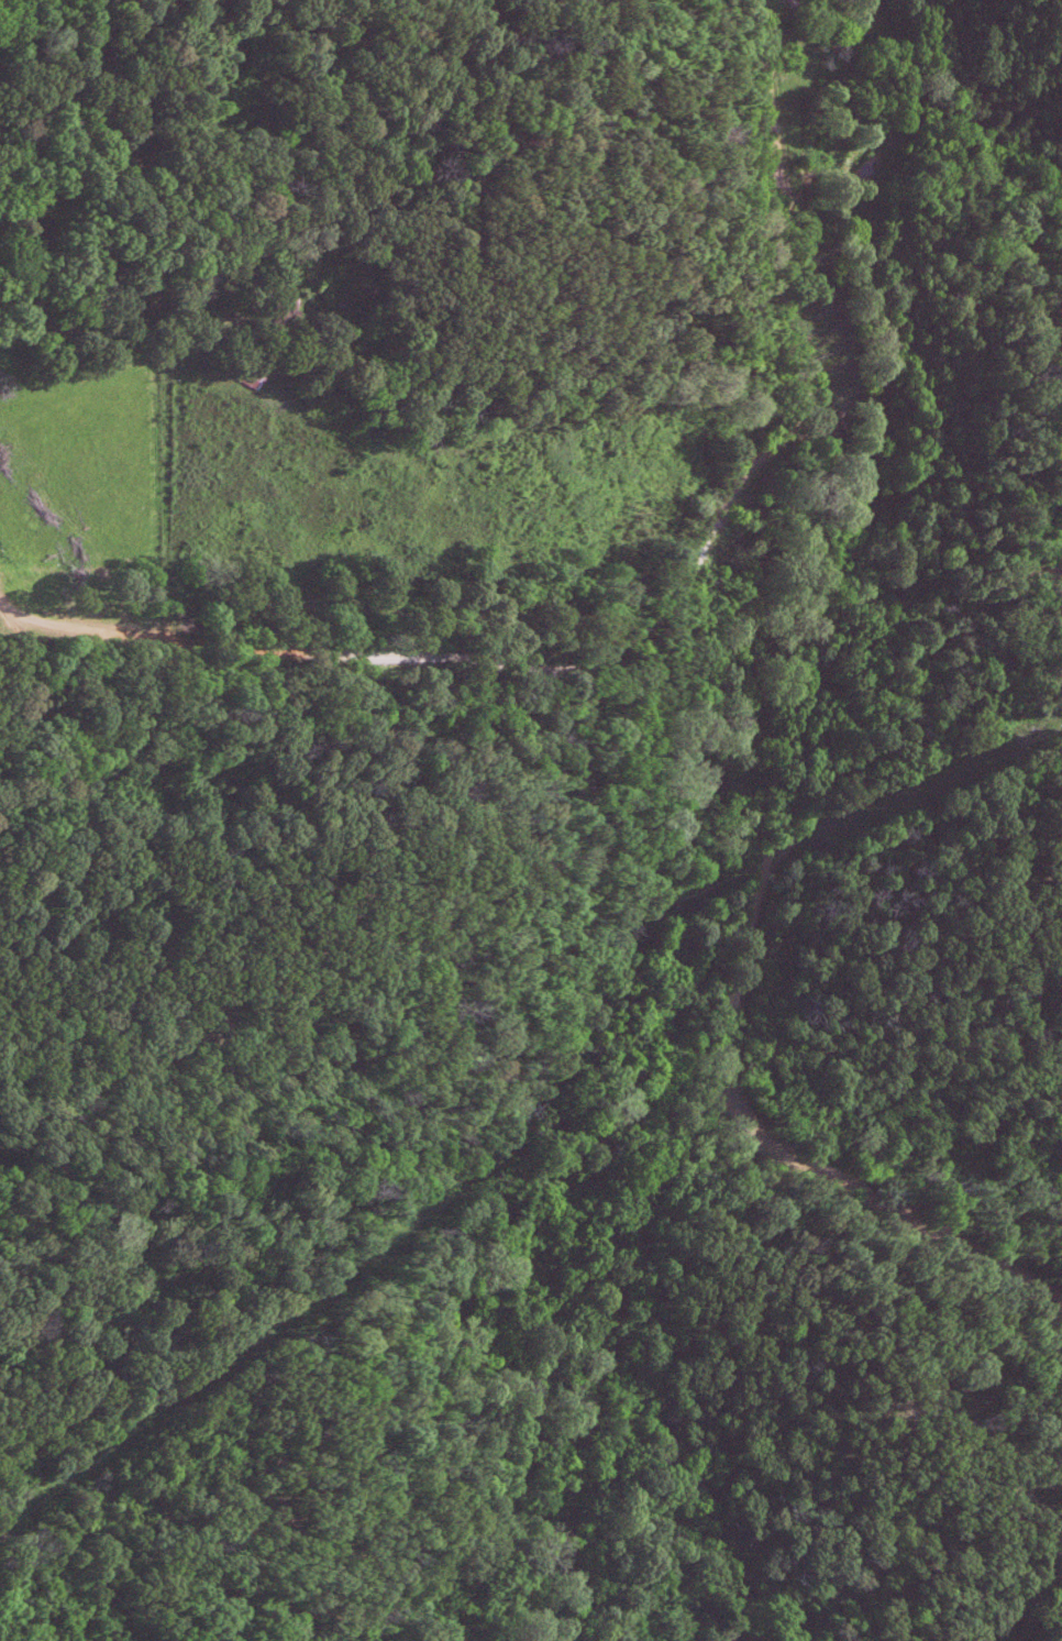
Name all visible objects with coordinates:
building: (773, 0)
road: (848, 541)
road: (469, 656)
road: (906, 708)
road: (885, 1198)
road: (552, 1344)
road: (642, 1541)

